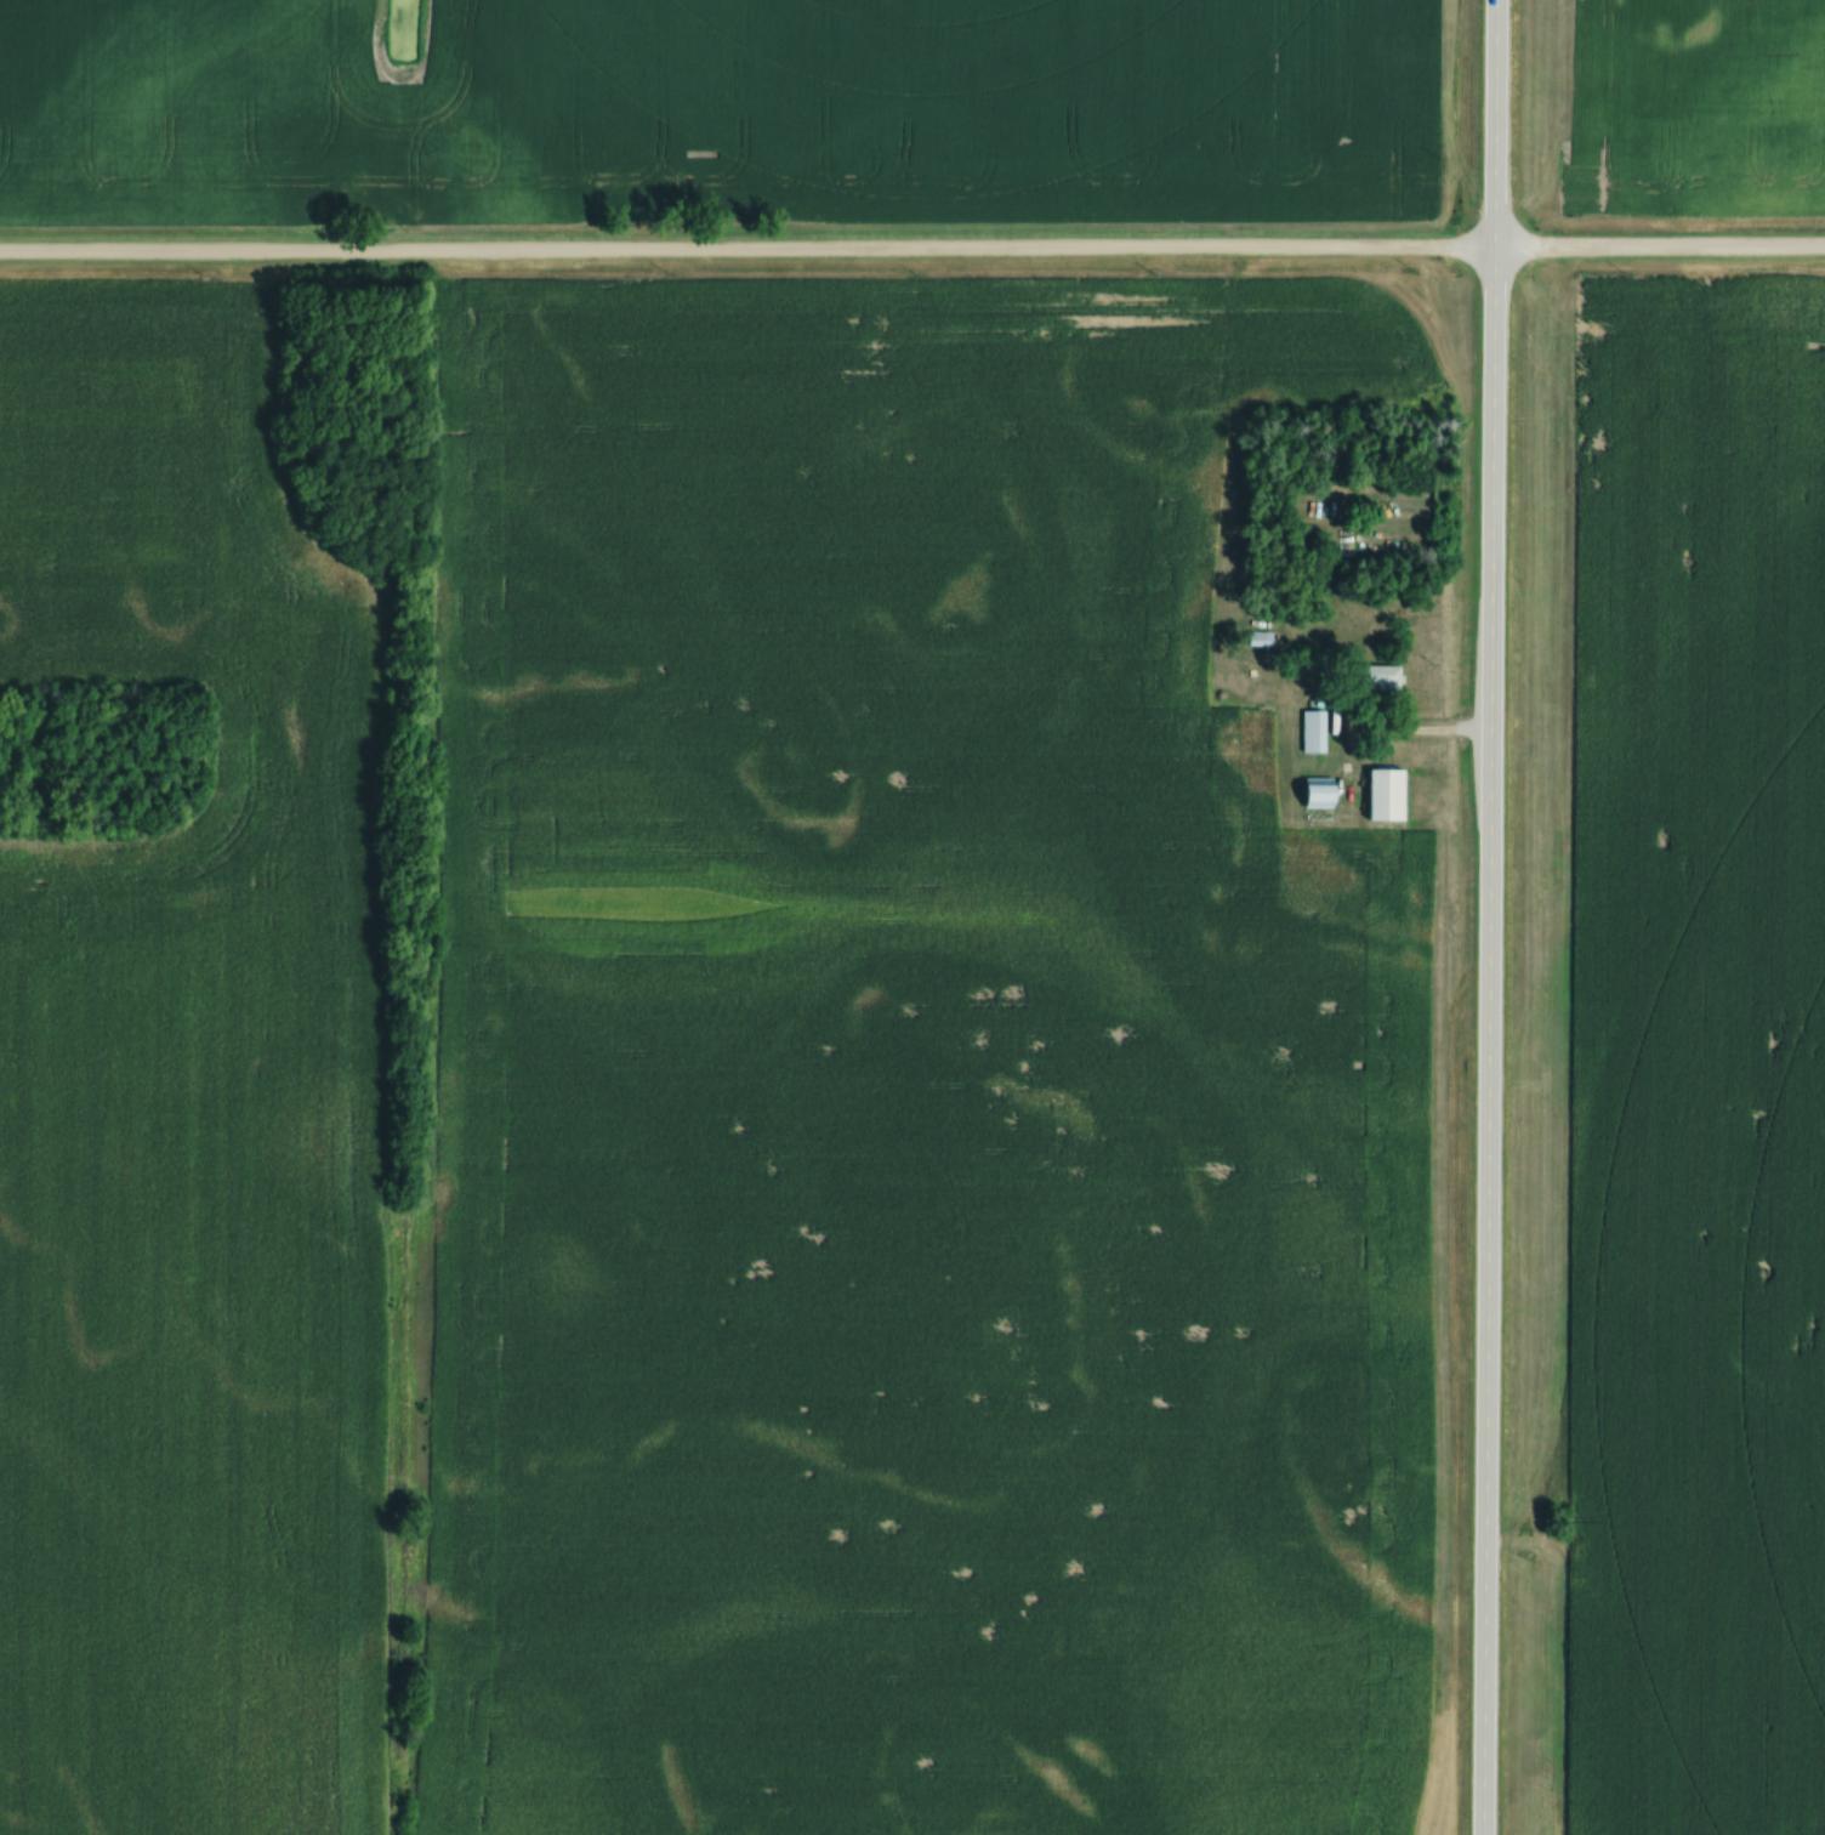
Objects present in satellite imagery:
road: (912, 254)
building: (1263, 638)
building: (1386, 676)
building: (1318, 731)
road: (1412, 735)
building: (1326, 792)
building: (1393, 794)
road: (1491, 917)

